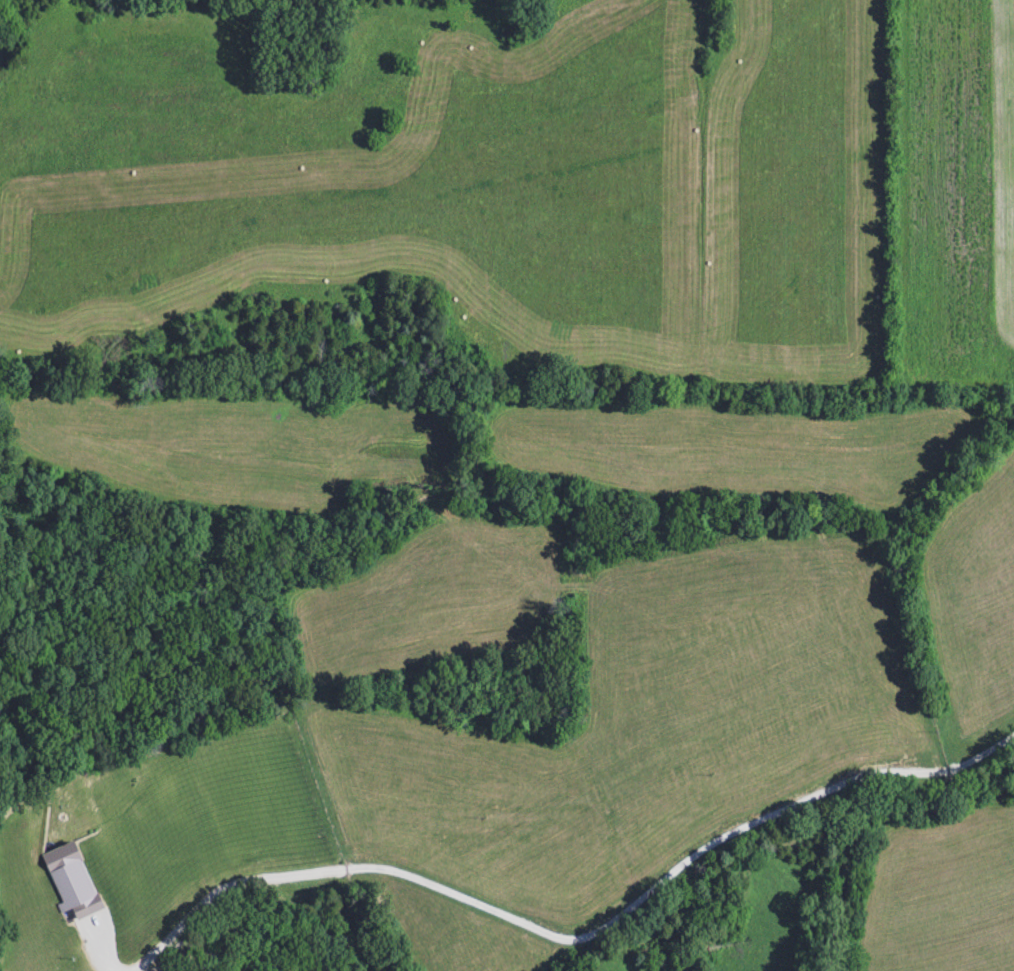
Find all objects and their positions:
building: (70, 887)
road: (578, 939)

